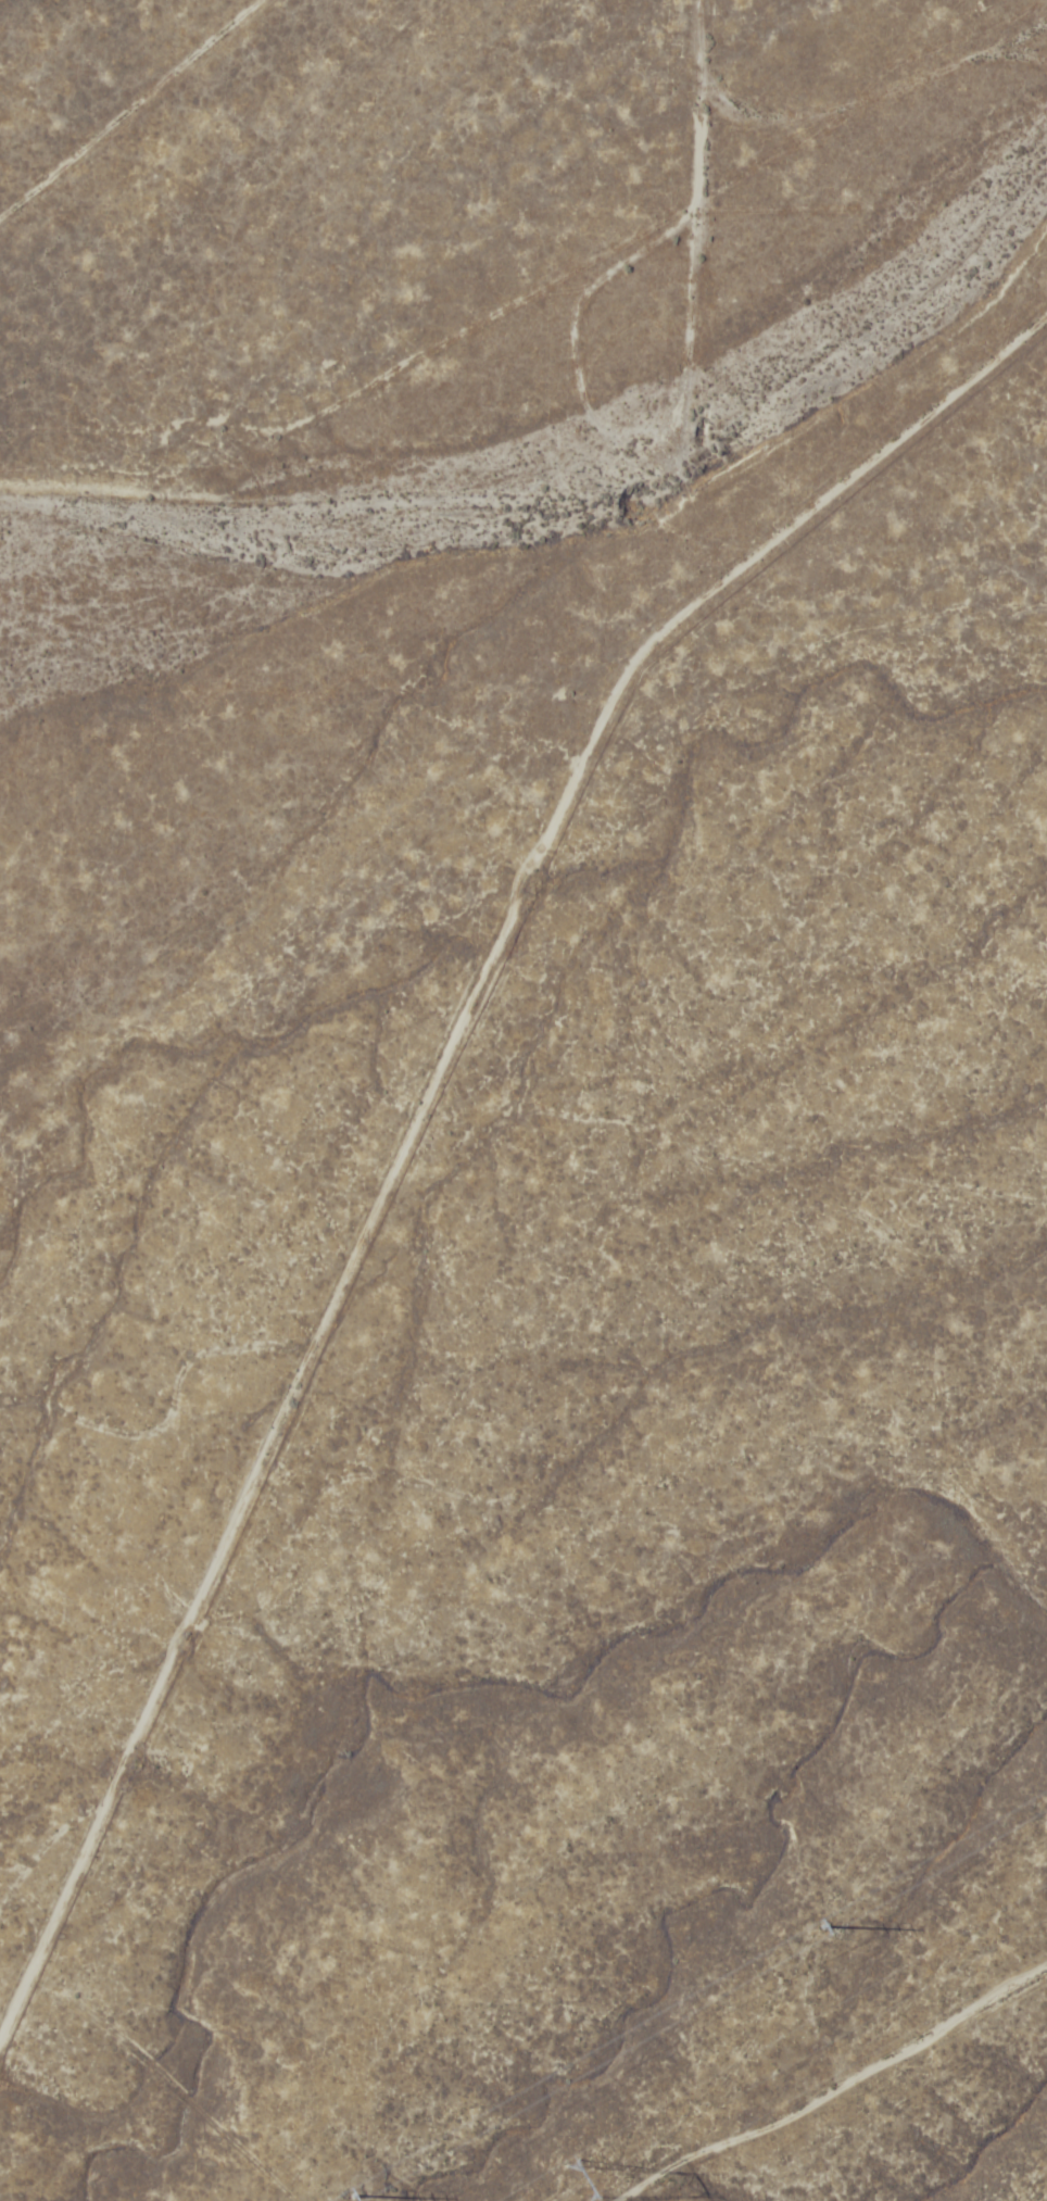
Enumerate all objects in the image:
road: (128, 109)
road: (419, 1187)
power tower: (834, 1933)
power tower: (584, 2187)
power tower: (370, 2200)

